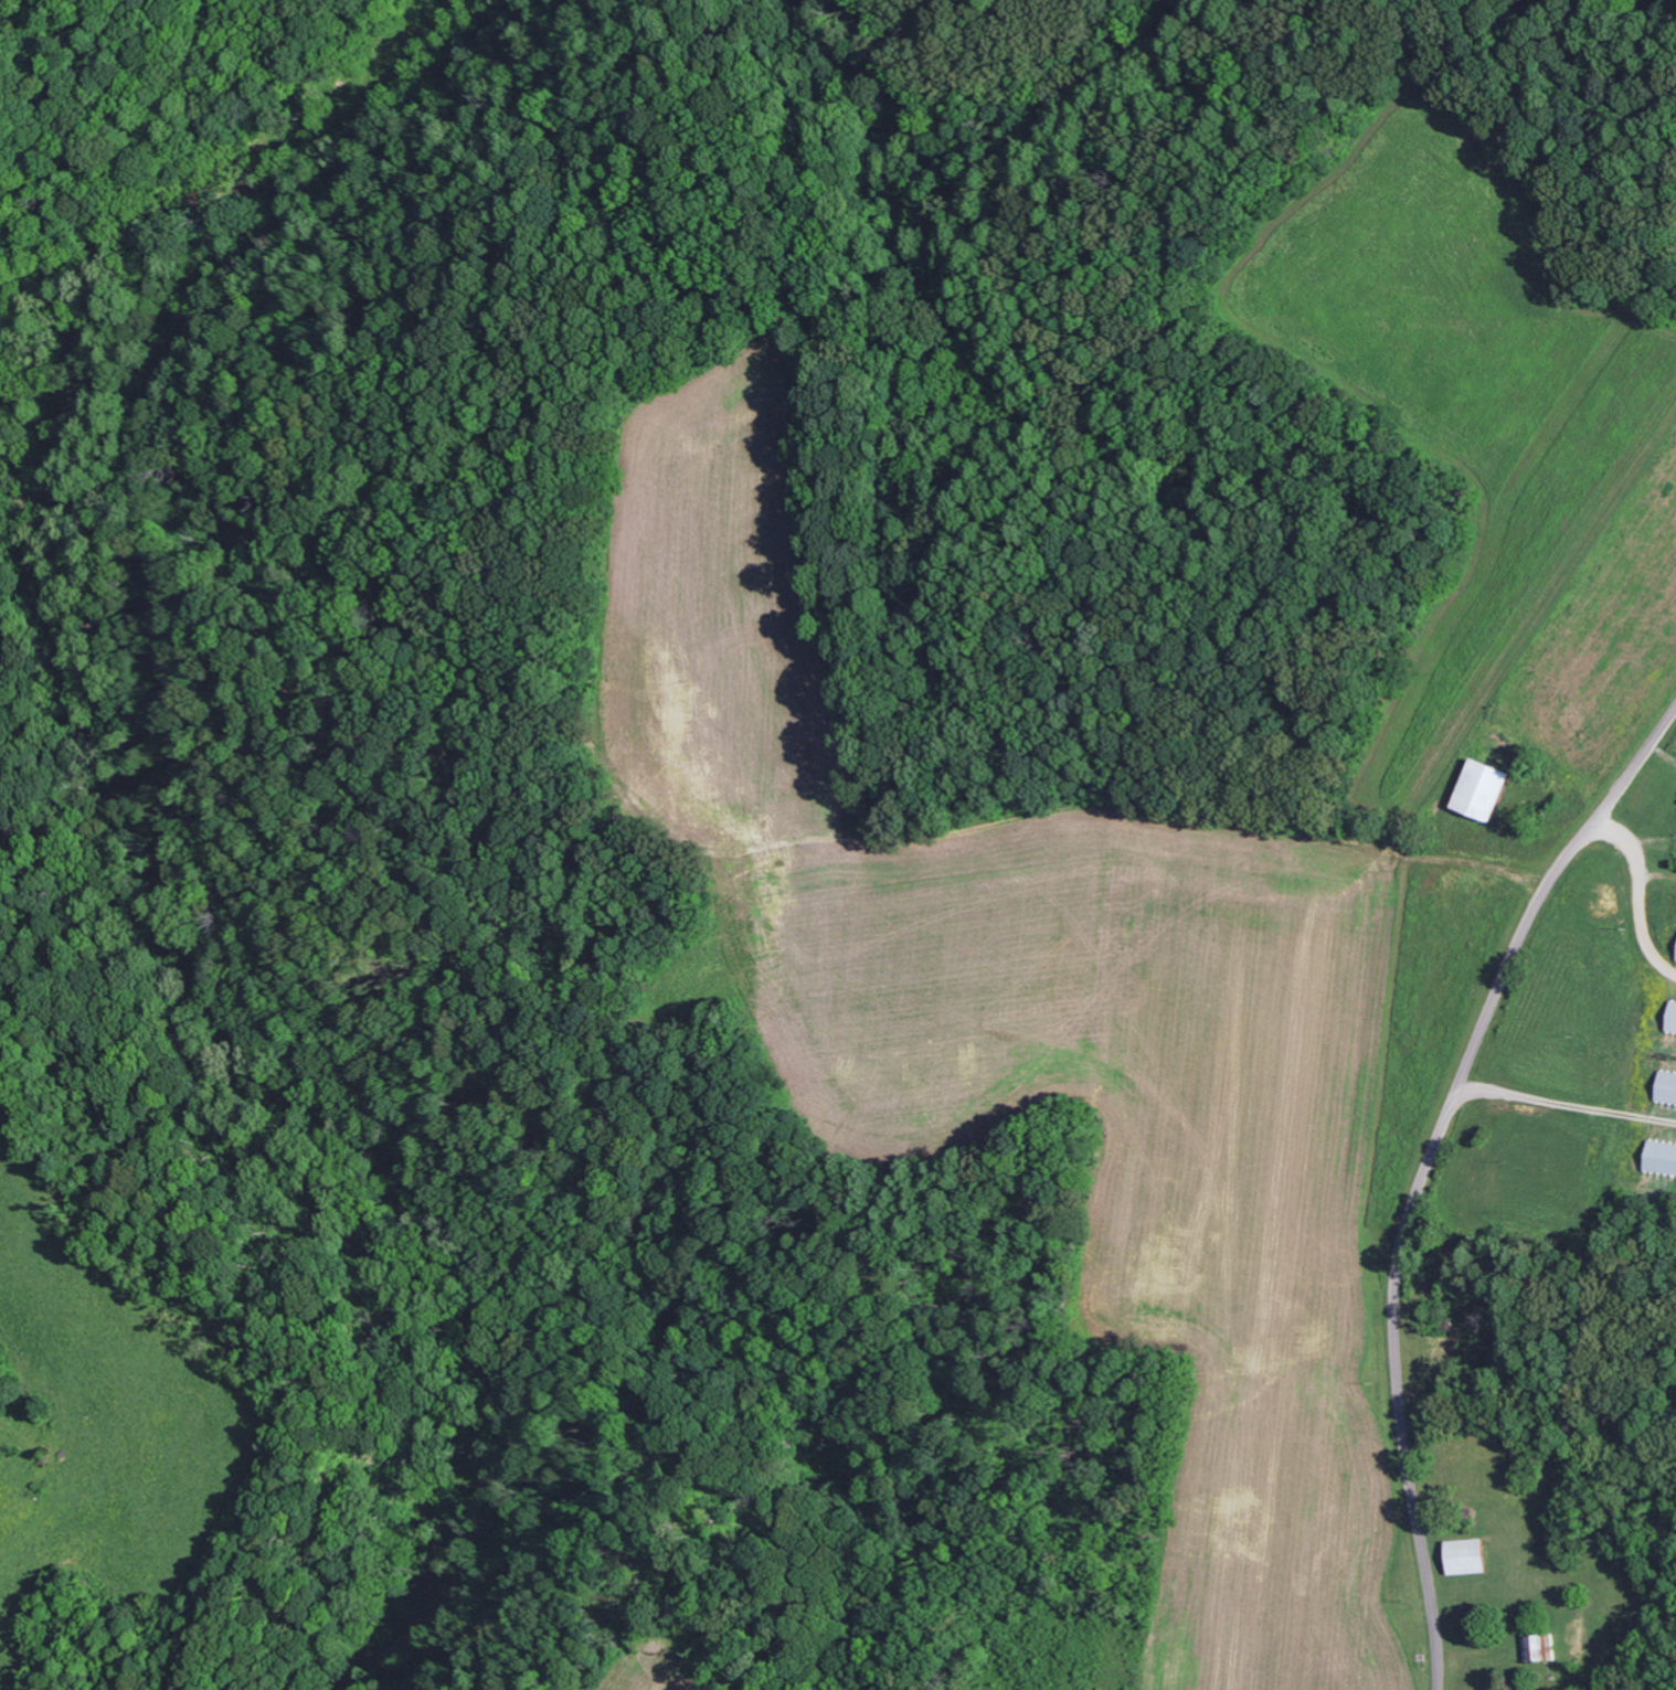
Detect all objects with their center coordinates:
building: (1471, 790)
road: (1636, 895)
building: (1674, 950)
building: (1667, 1020)
building: (1663, 1090)
road: (1567, 1103)
building: (1657, 1161)
road: (1425, 1169)
building: (1461, 1556)
building: (1538, 1648)

